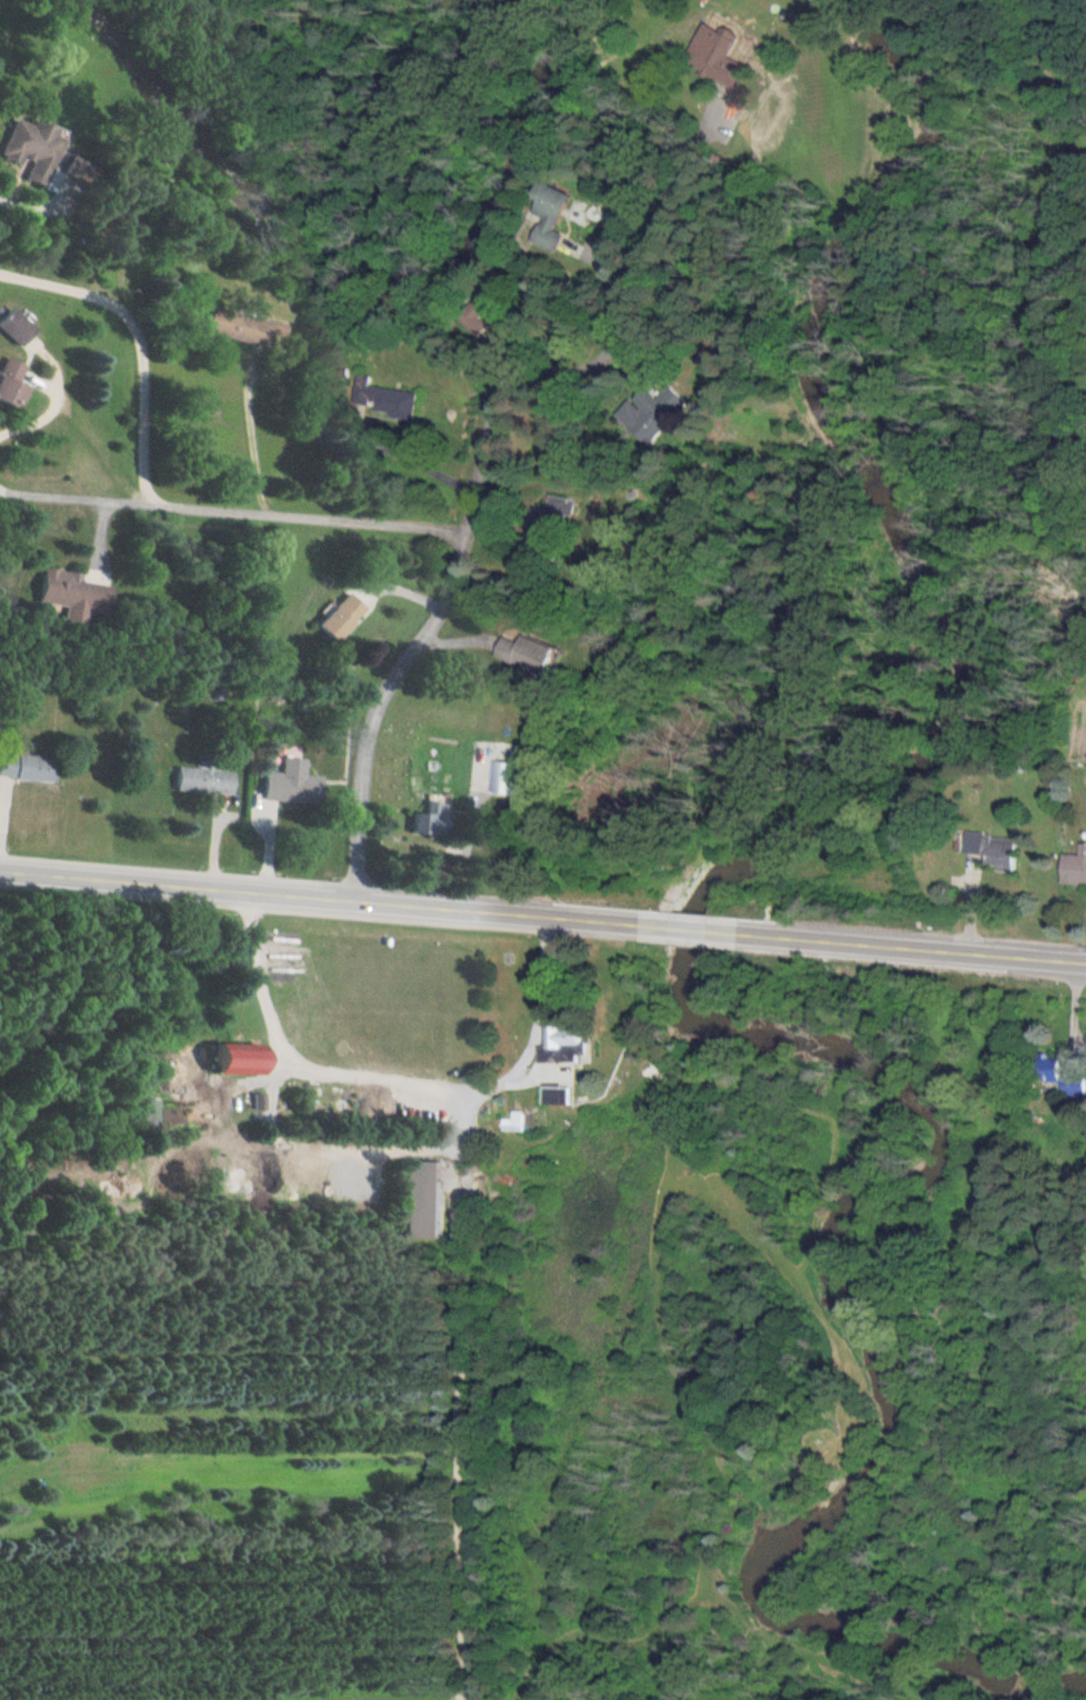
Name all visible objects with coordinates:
building: (717, 56)
building: (27, 149)
building: (549, 220)
building: (12, 327)
building: (231, 329)
road: (139, 343)
building: (9, 382)
building: (383, 398)
road: (38, 410)
building: (650, 412)
road: (78, 491)
road: (470, 503)
road: (314, 518)
building: (68, 594)
building: (336, 617)
building: (523, 652)
building: (22, 768)
building: (503, 778)
building: (201, 780)
building: (288, 783)
building: (426, 819)
building: (992, 850)
building: (1074, 869)
road: (335, 900)
road: (691, 931)
road: (898, 948)
building: (562, 1043)
building: (229, 1058)
building: (1056, 1076)
building: (555, 1096)
building: (148, 1114)
building: (512, 1122)
building: (418, 1200)

